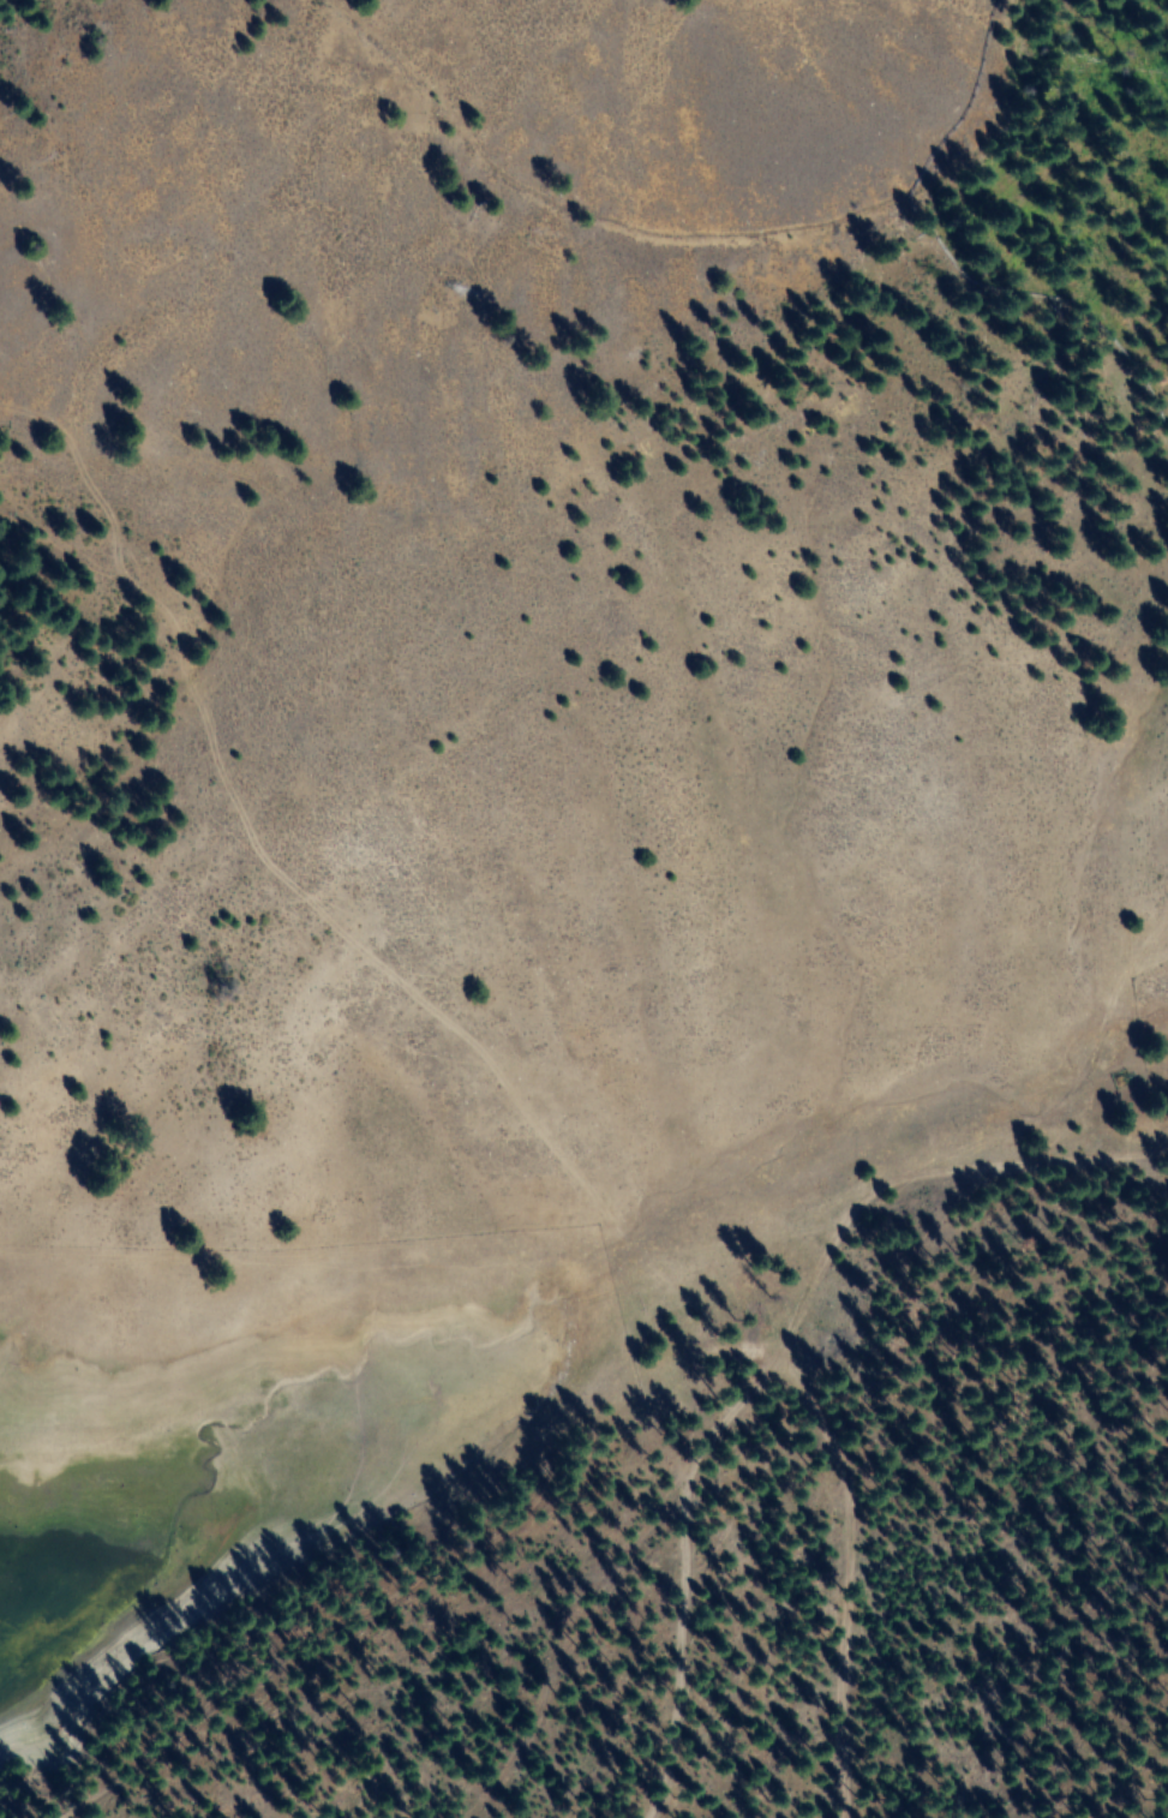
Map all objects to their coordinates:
road: (595, 1286)

